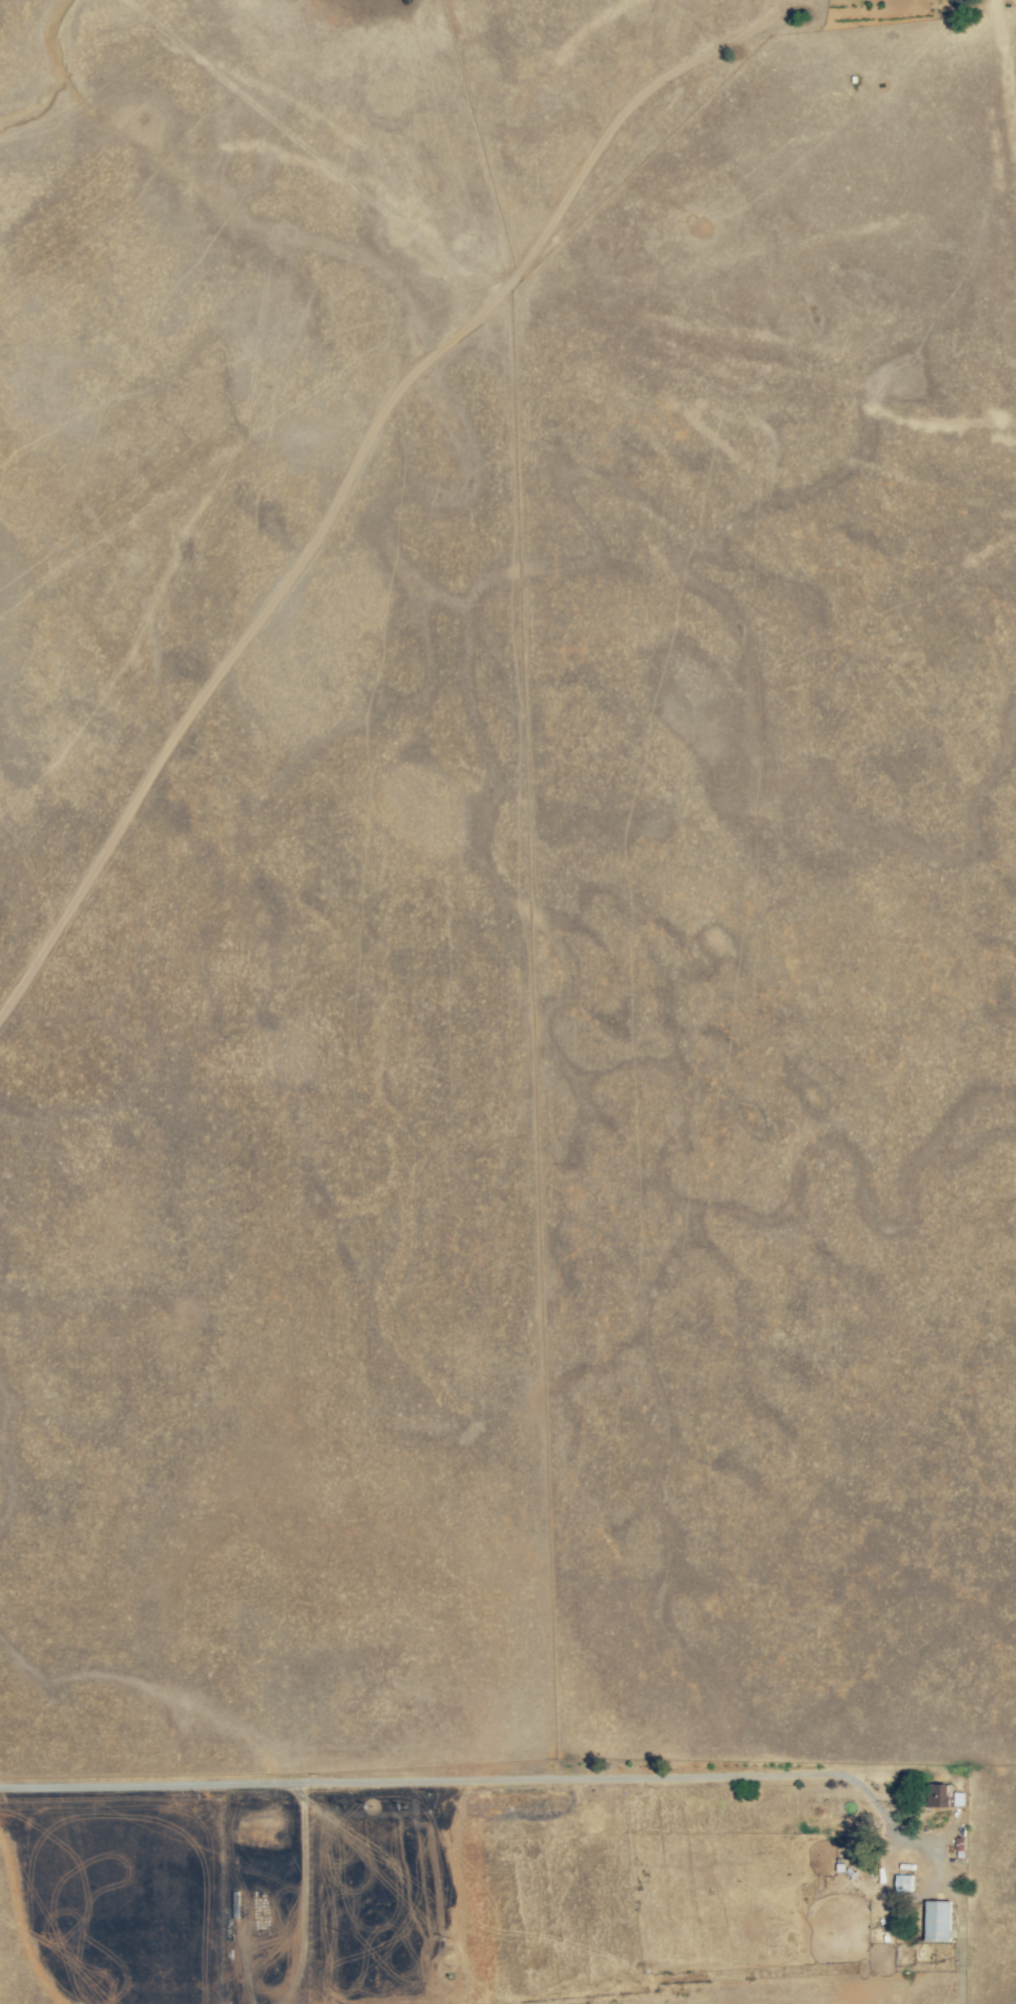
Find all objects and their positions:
road: (368, 512)
road: (479, 1777)
building: (935, 1922)

